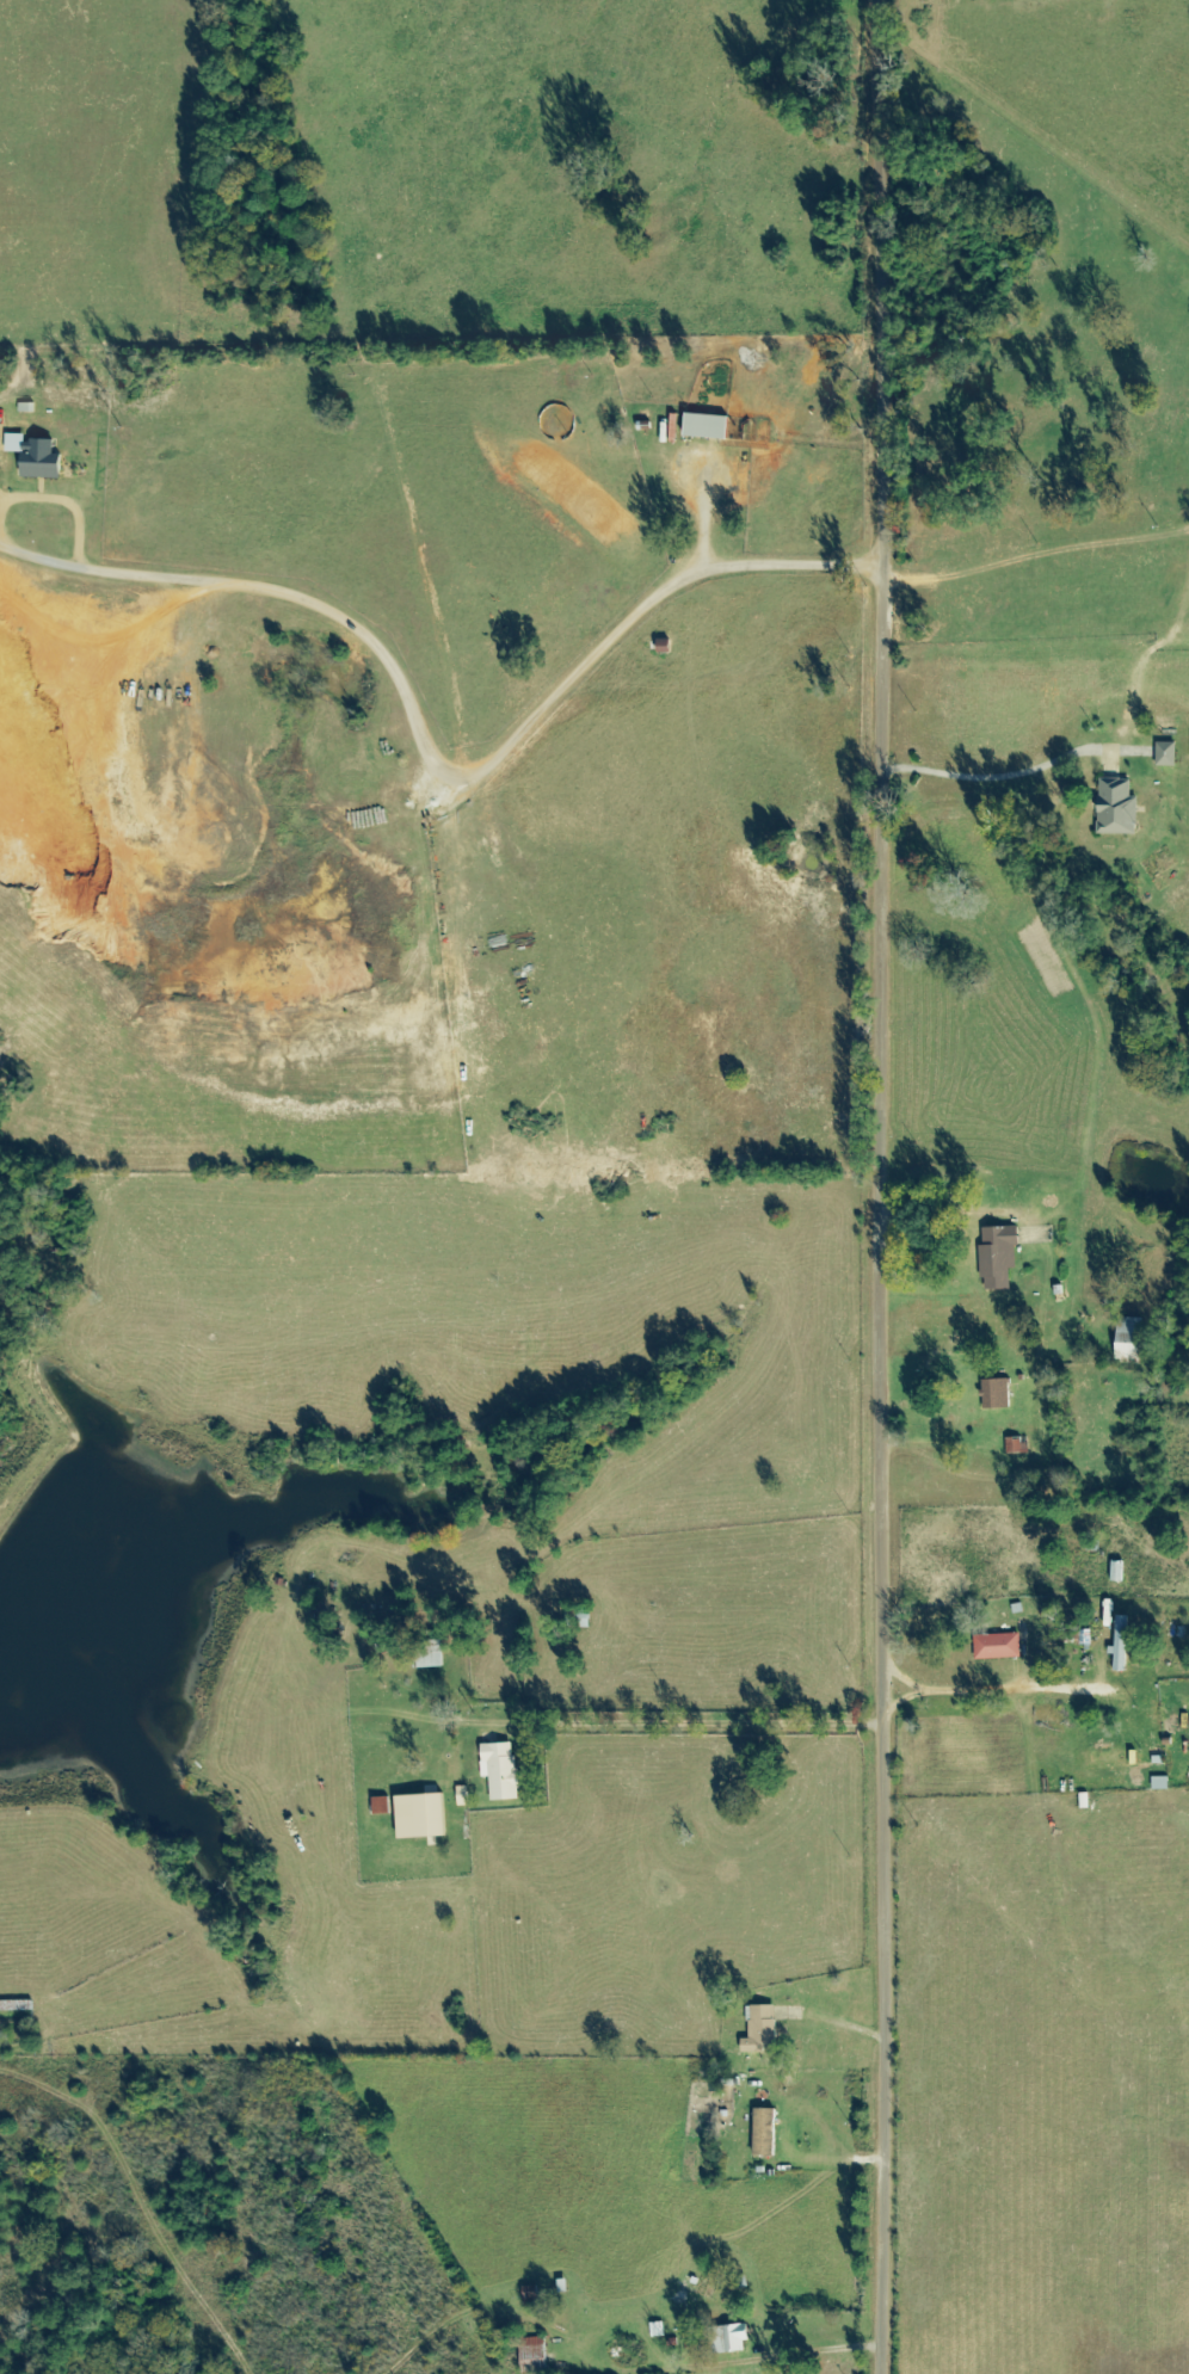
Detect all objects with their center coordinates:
building: (709, 427)
building: (44, 461)
building: (1168, 756)
building: (1119, 809)
road: (891, 1186)
building: (1000, 1257)
building: (1133, 1342)
building: (998, 1394)
building: (1123, 1644)
building: (999, 1647)
building: (501, 1770)
building: (464, 1796)
building: (424, 1817)
road: (834, 2022)
building: (763, 2030)
building: (766, 2133)
road: (786, 2139)
building: (731, 2339)

